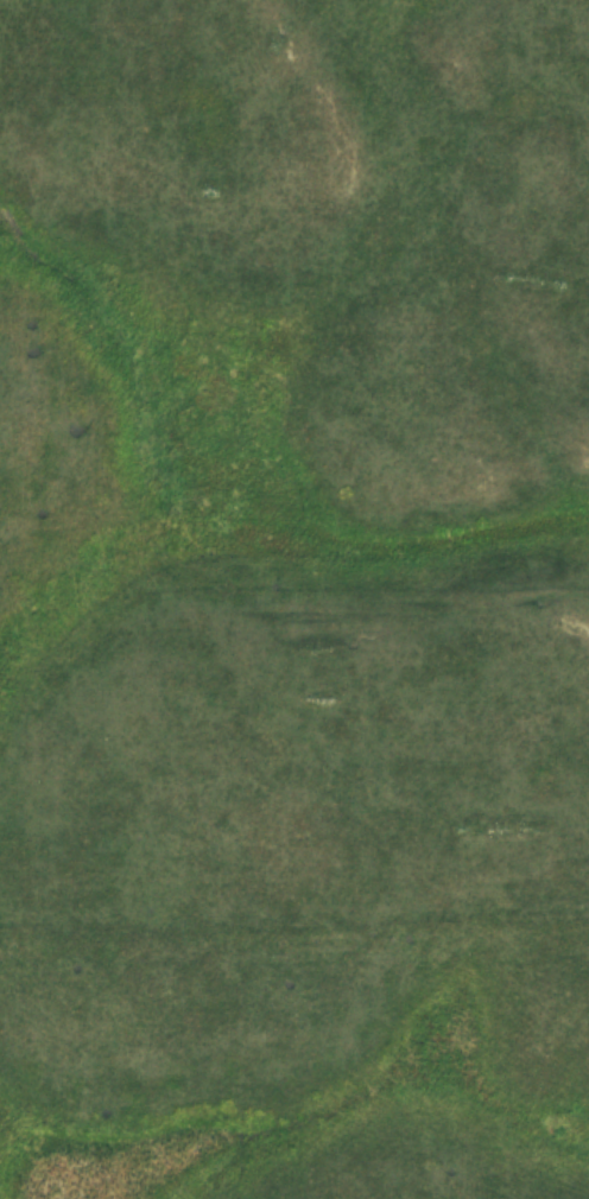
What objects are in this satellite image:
road: (294, 947)

